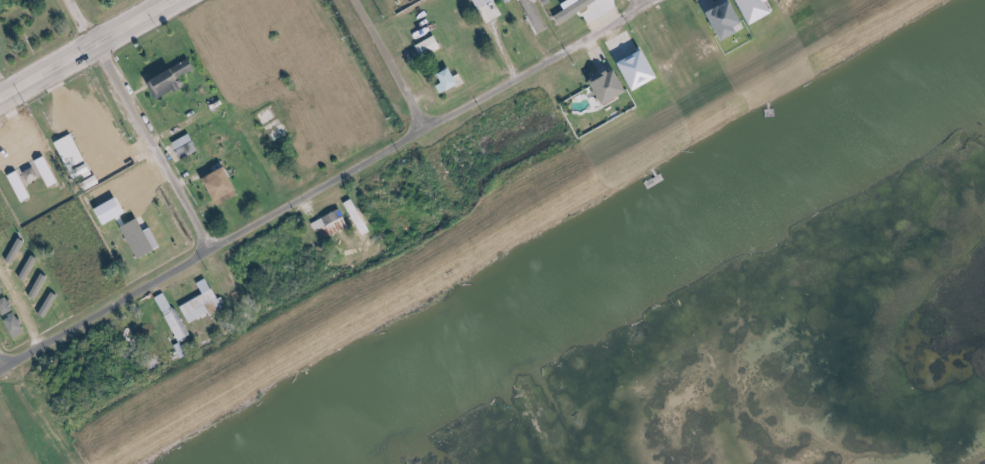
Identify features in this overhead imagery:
building: (485, 3)
road: (642, 3)
building: (537, 16)
building: (730, 19)
road: (82, 46)
building: (433, 46)
road: (388, 63)
building: (455, 79)
building: (176, 80)
road: (141, 124)
building: (189, 146)
building: (73, 151)
building: (50, 172)
road: (327, 183)
building: (228, 186)
building: (23, 187)
building: (115, 211)
building: (366, 225)
building: (145, 239)
building: (2, 289)
building: (205, 303)
building: (12, 316)

